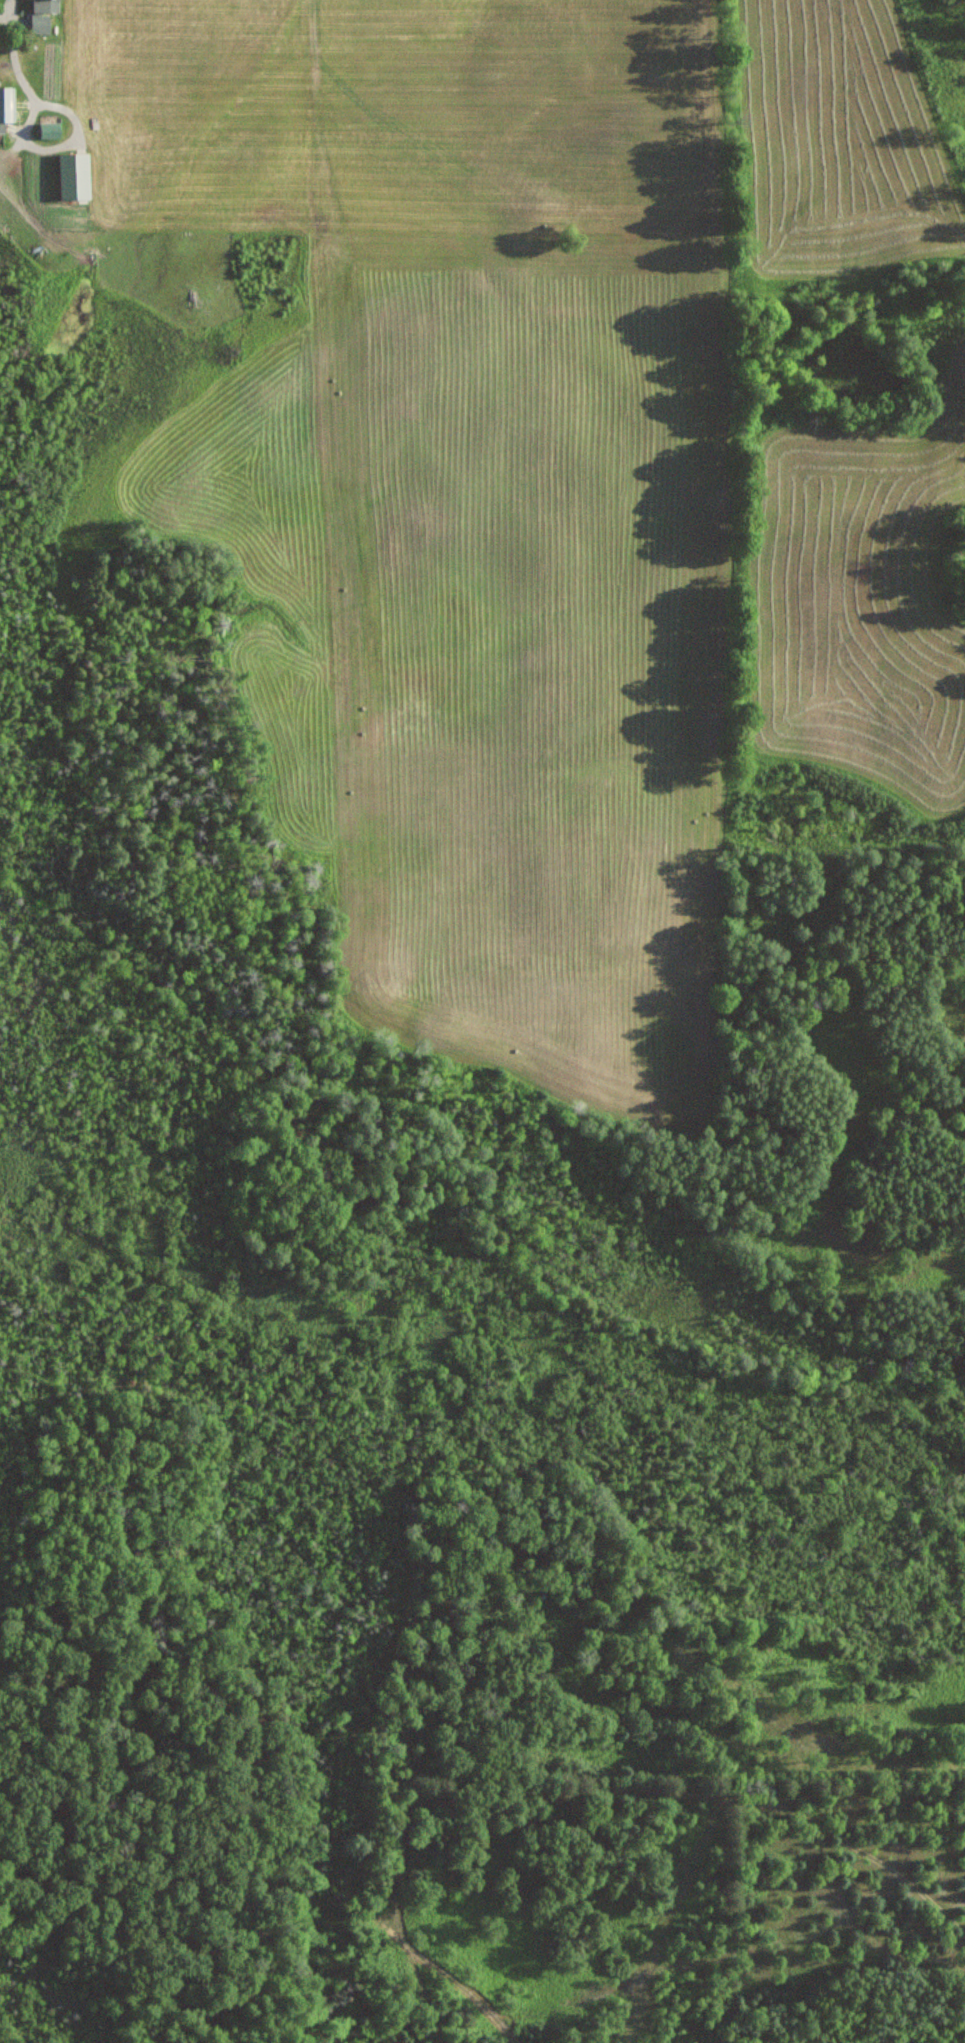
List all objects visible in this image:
building: (52, 3)
building: (43, 24)
building: (8, 109)
building: (52, 130)
building: (76, 175)

